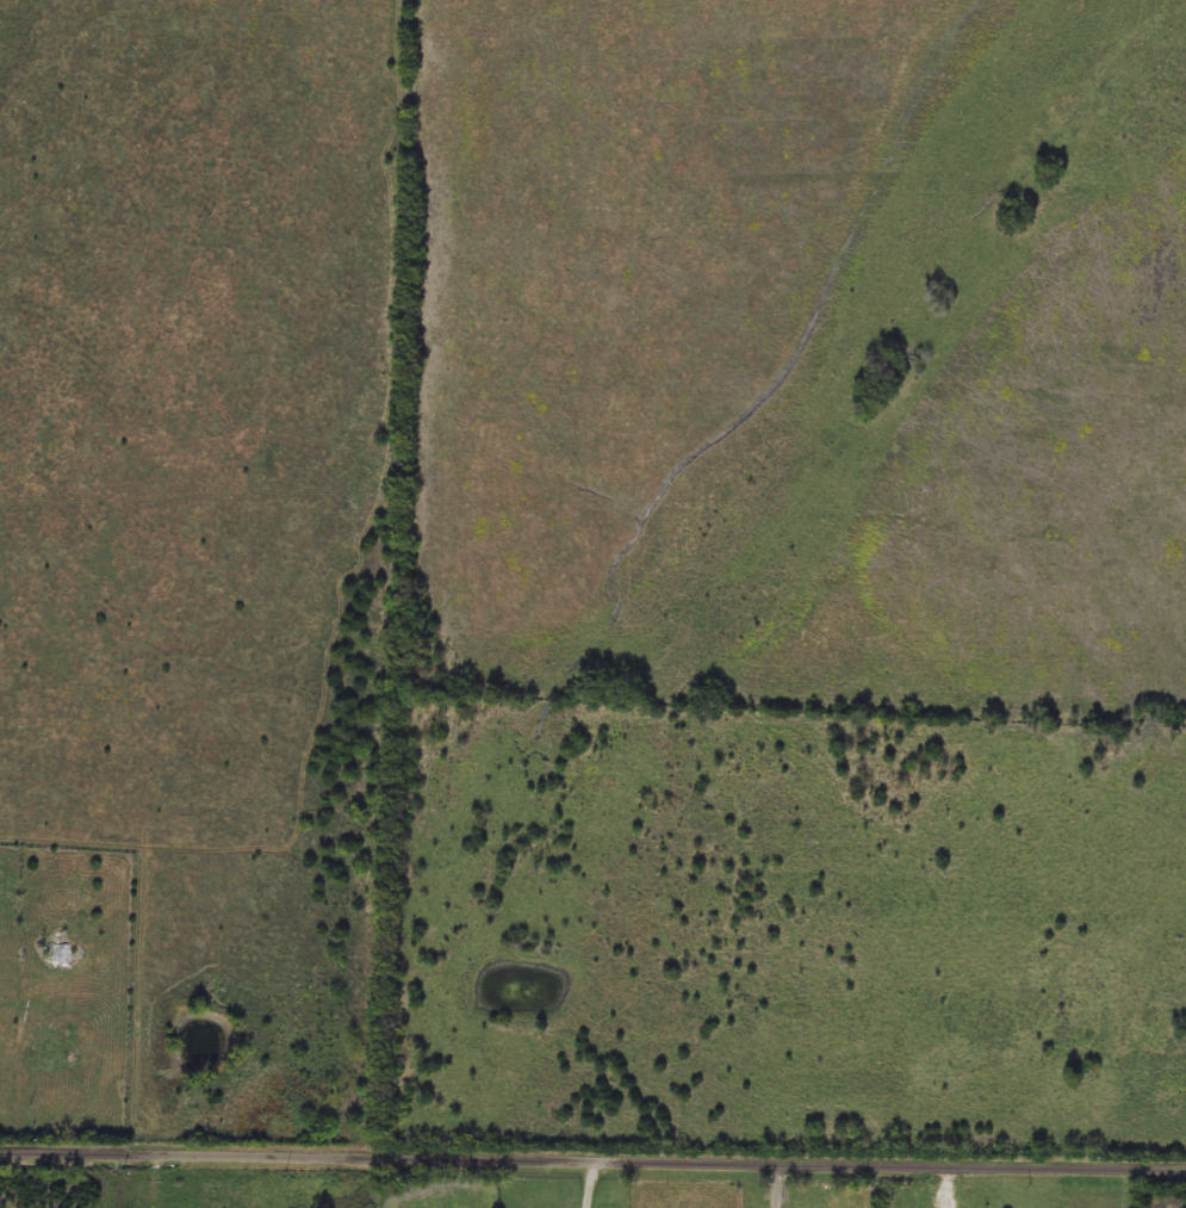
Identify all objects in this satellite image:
building: (55, 955)
road: (592, 1158)
road: (594, 1183)
road: (776, 1183)

